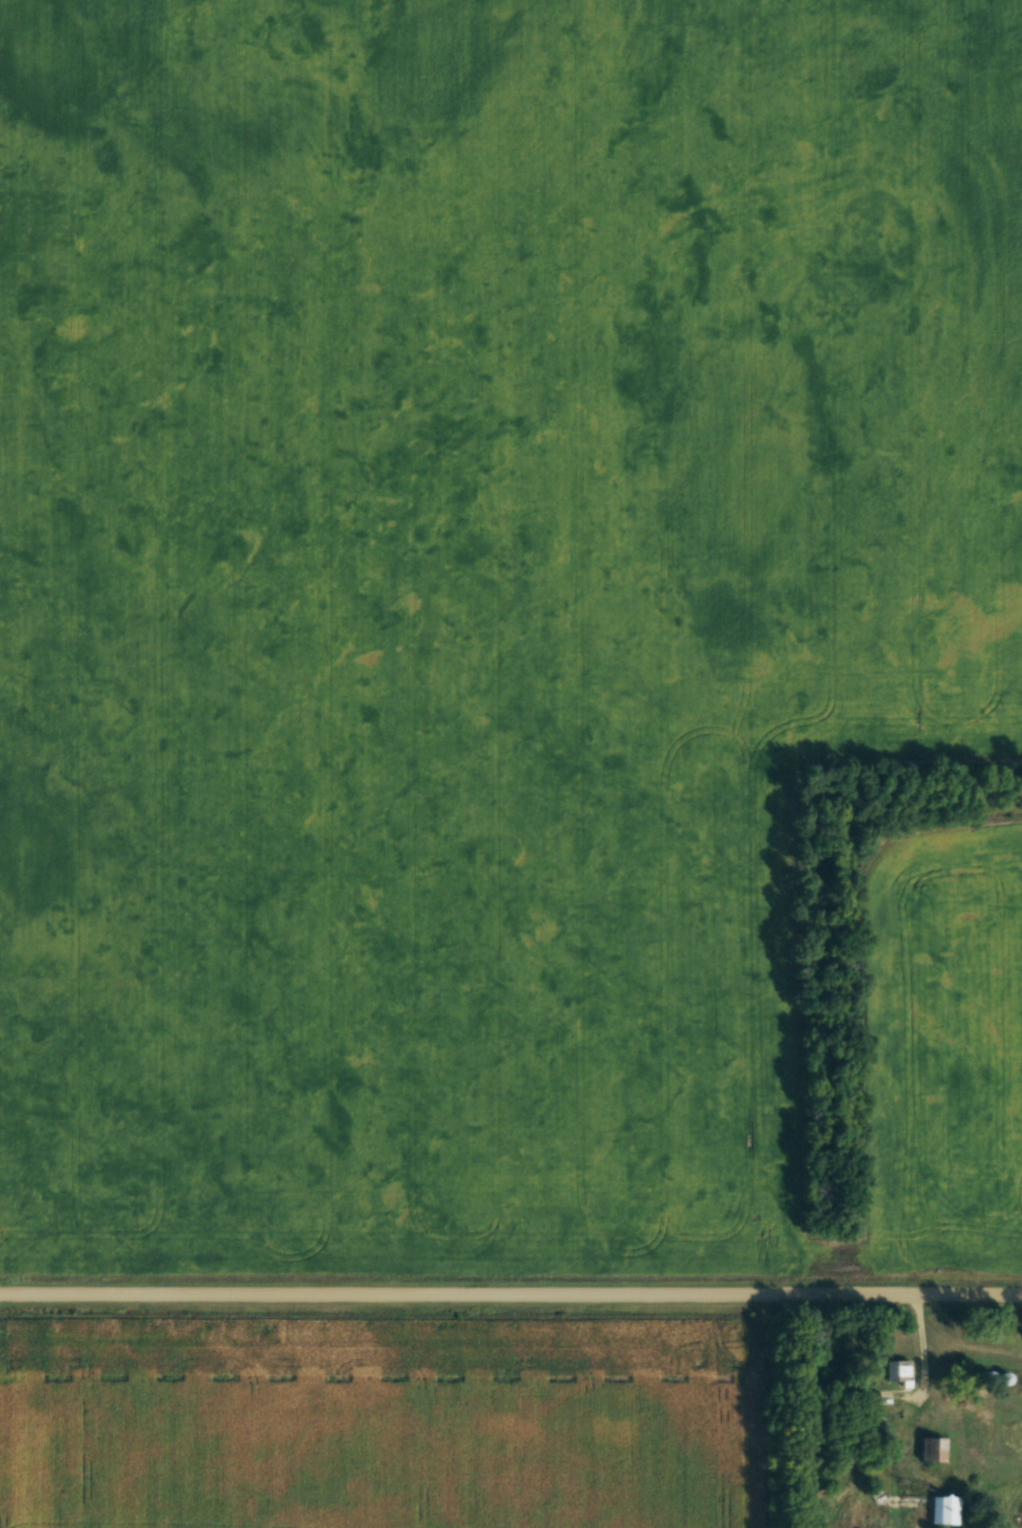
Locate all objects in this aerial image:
road: (510, 1299)
road: (926, 1354)
building: (896, 1373)
building: (999, 1379)
building: (942, 1511)

